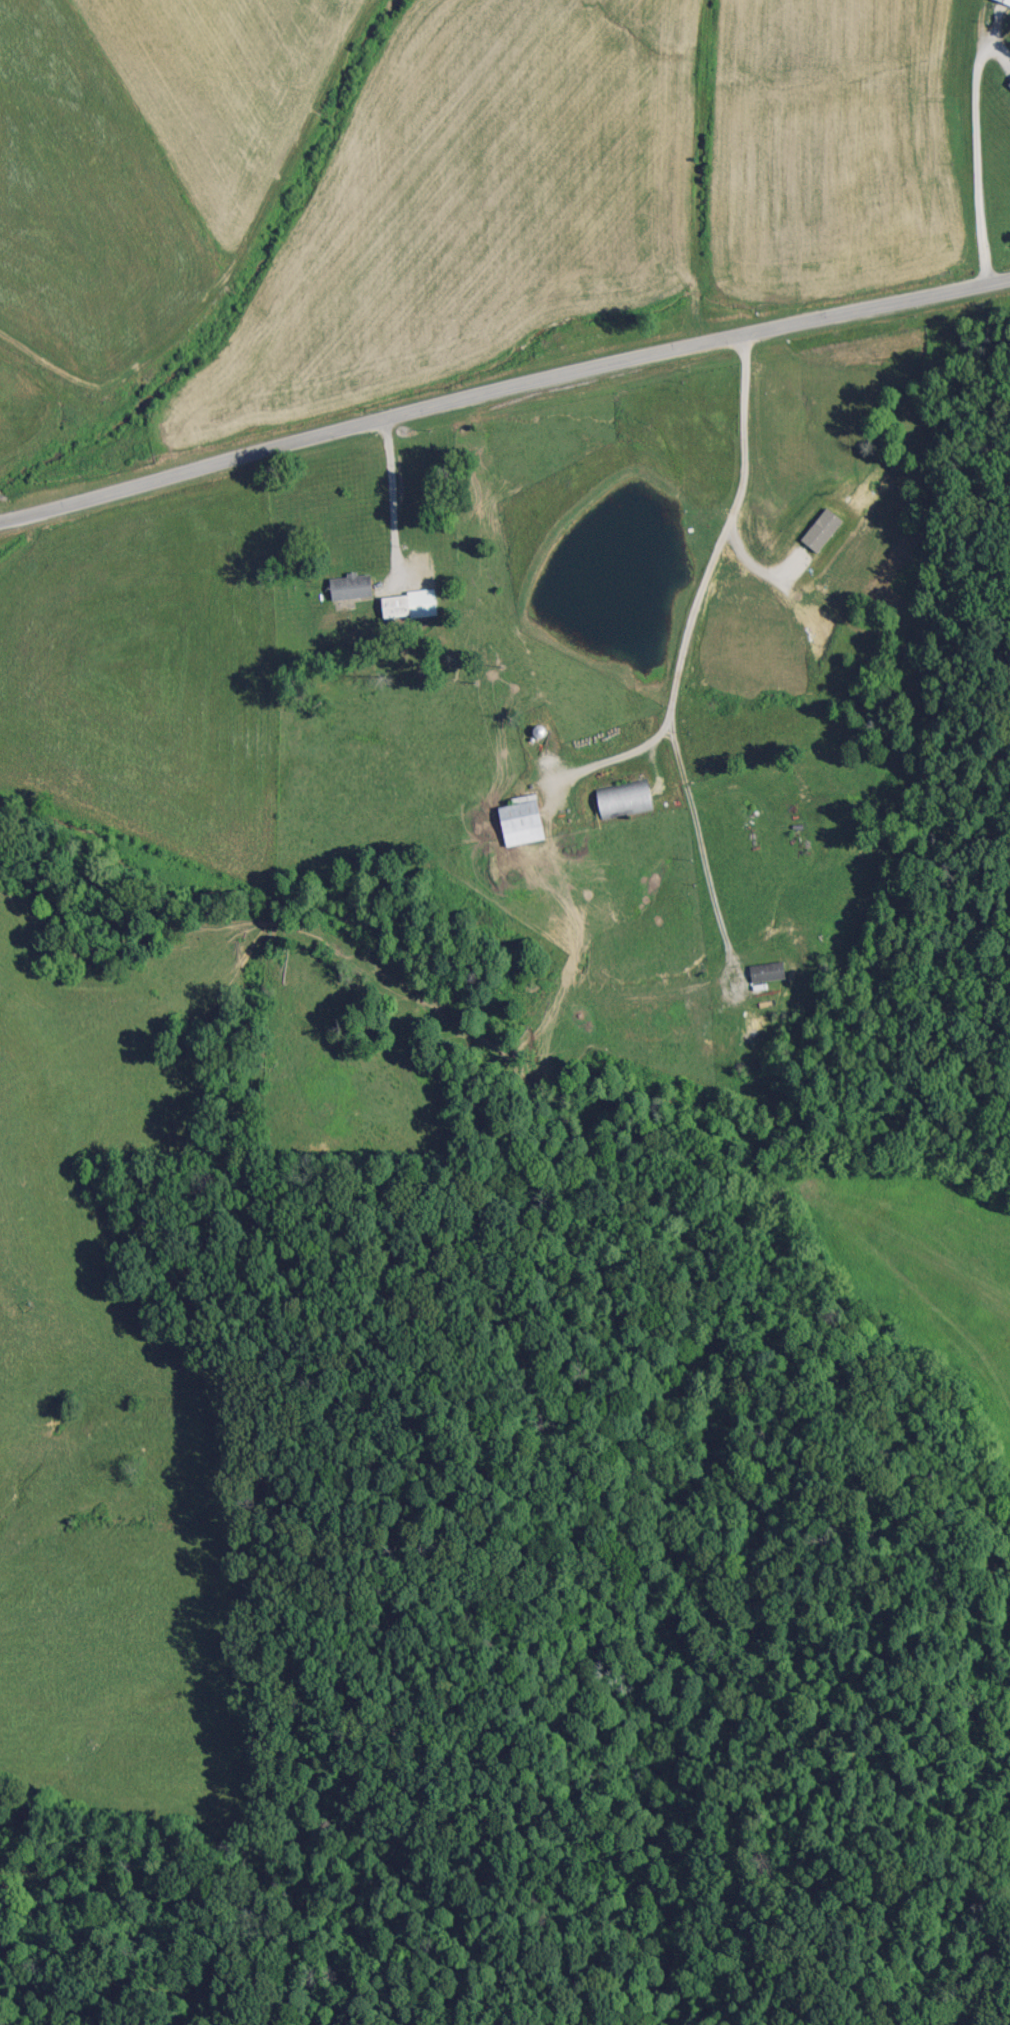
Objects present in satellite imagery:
building: (1005, 1)
road: (978, 161)
road: (758, 168)
road: (503, 393)
road: (393, 495)
road: (714, 563)
building: (352, 585)
building: (407, 604)
building: (625, 797)
building: (524, 820)
road: (708, 870)
building: (768, 971)

